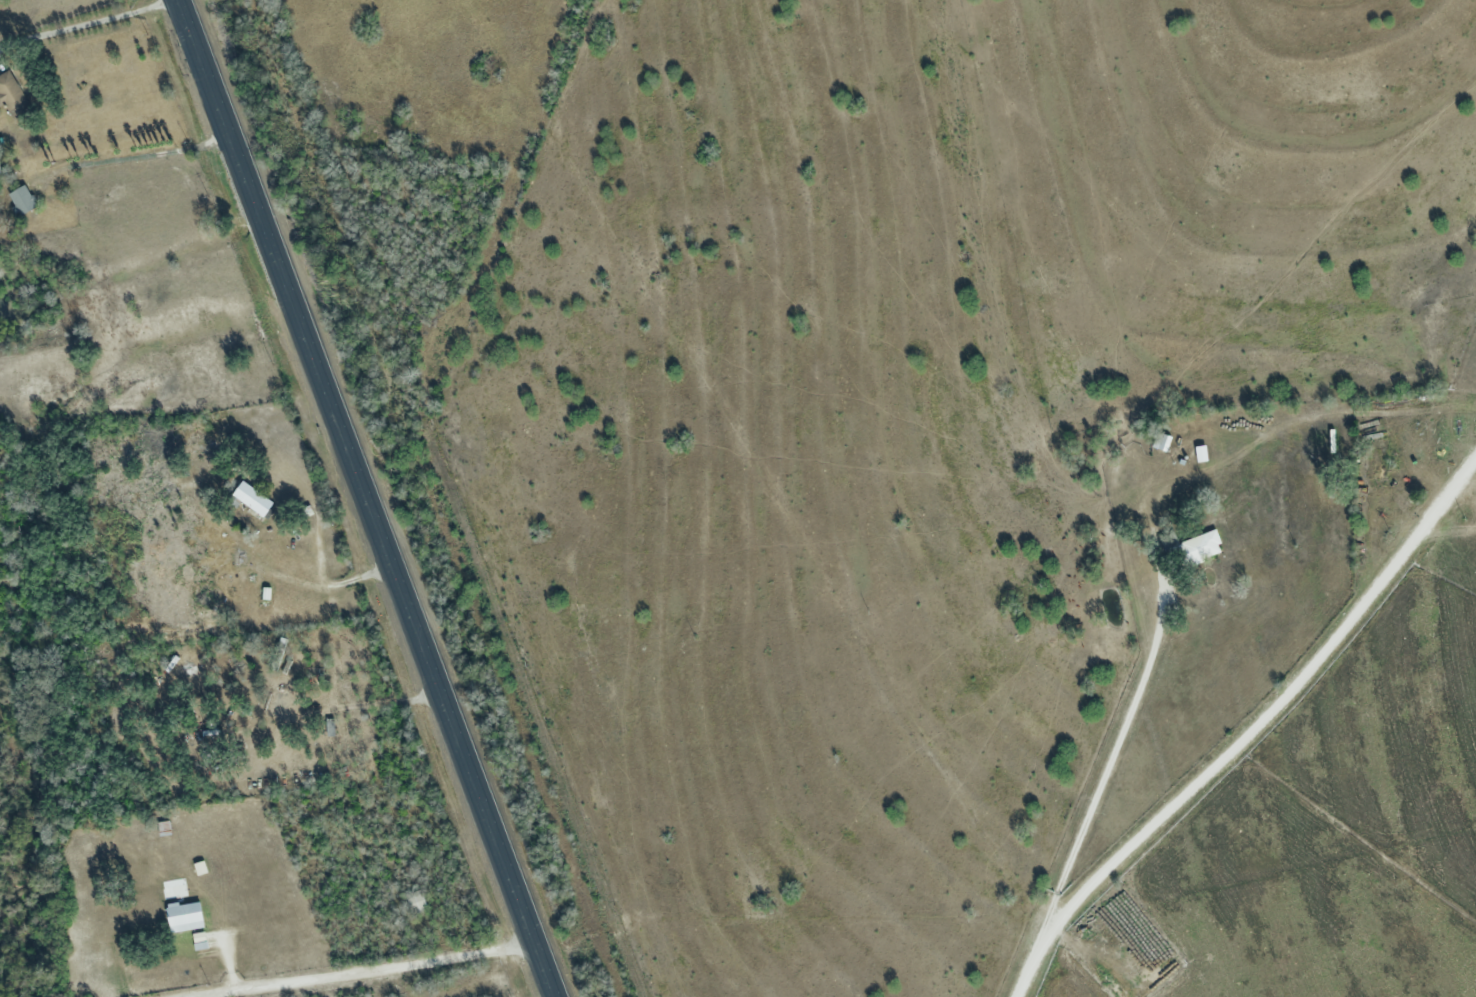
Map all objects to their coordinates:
building: (11, 94)
building: (0, 175)
building: (21, 199)
building: (1160, 441)
building: (251, 498)
road: (367, 498)
building: (1202, 545)
building: (328, 726)
road: (1248, 731)
building: (249, 734)
road: (1110, 759)
building: (414, 901)
building: (184, 916)
road: (365, 970)

